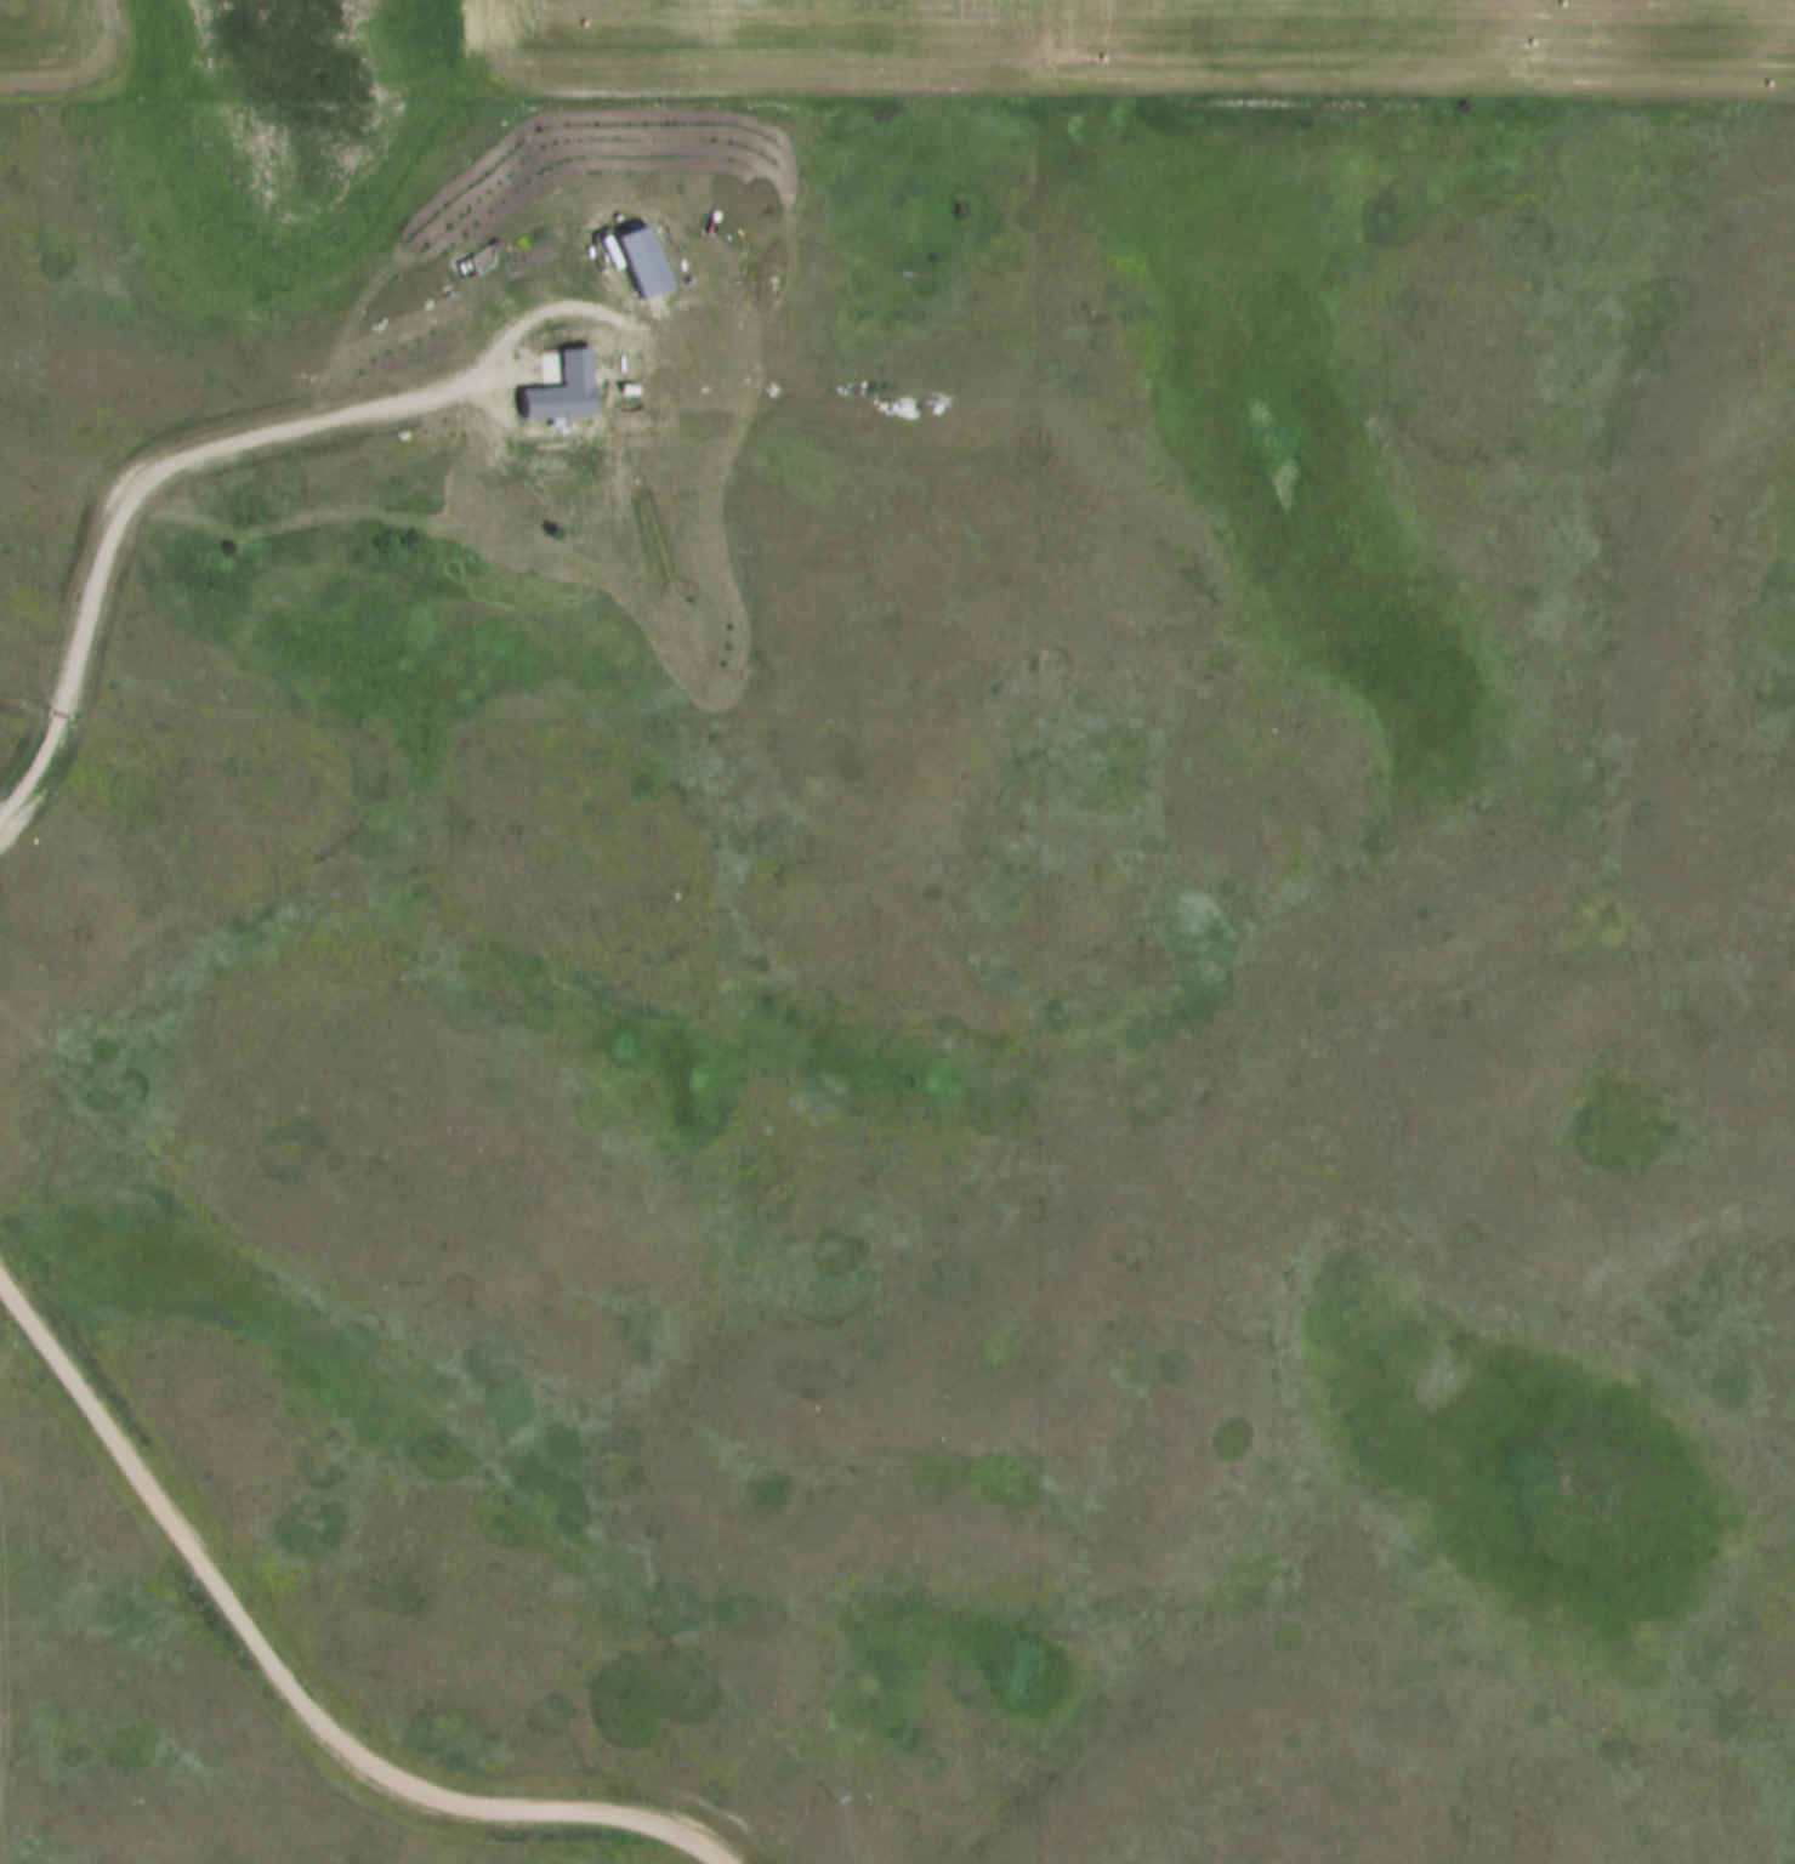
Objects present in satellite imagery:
road: (4, 1631)
road: (0, 1849)

